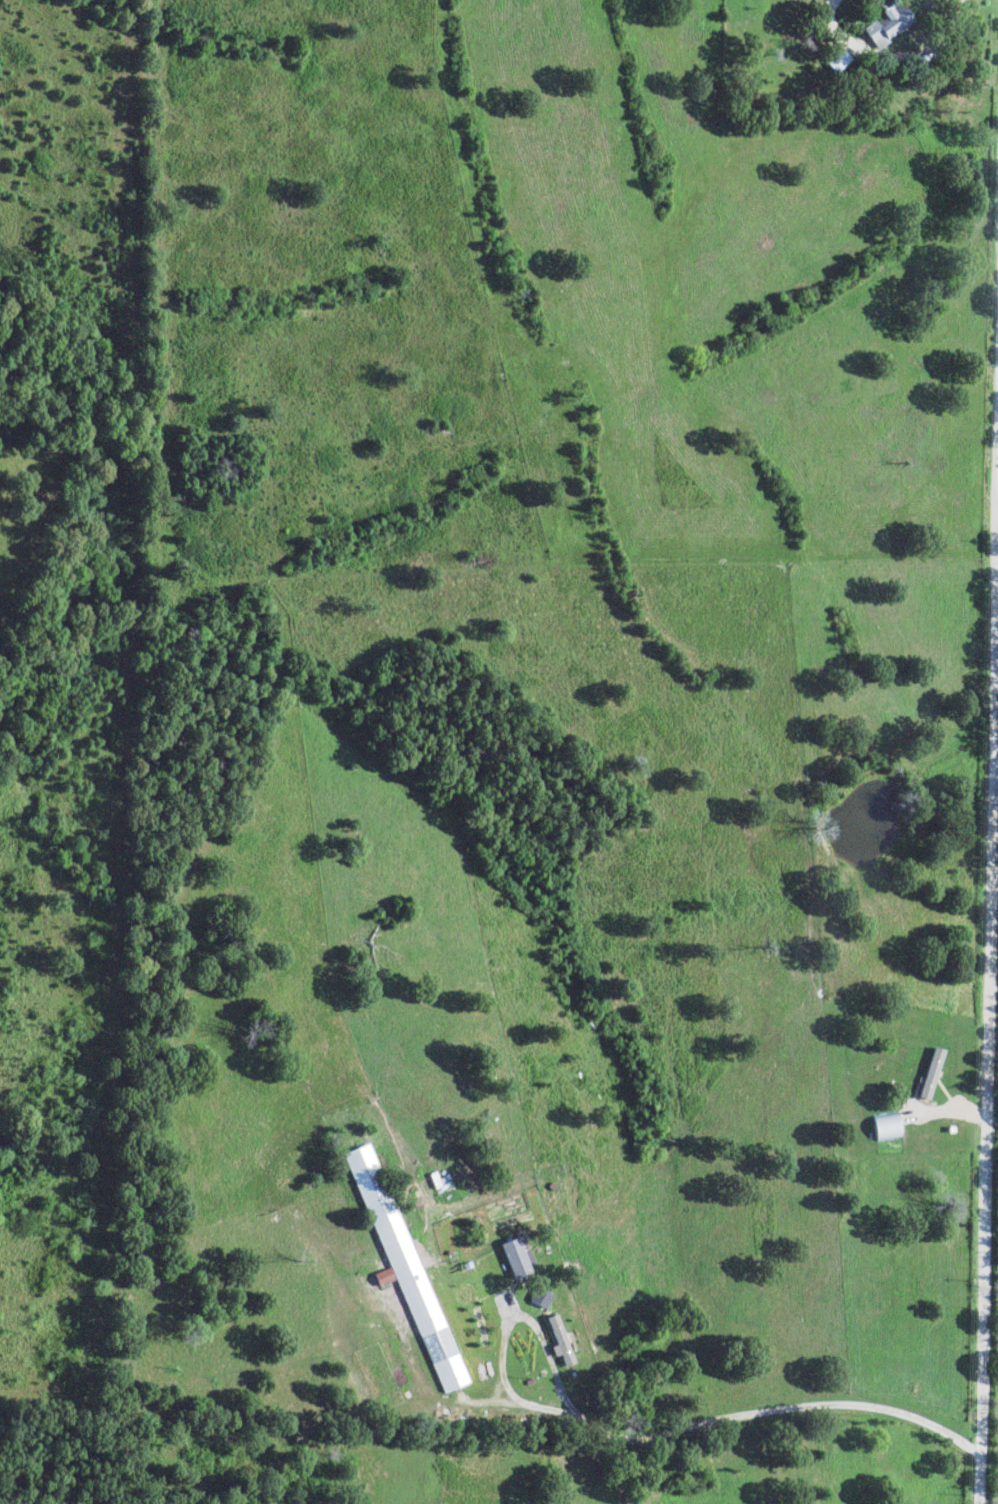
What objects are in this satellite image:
building: (889, 25)
road: (989, 899)
building: (933, 1073)
building: (888, 1127)
road: (679, 1196)
building: (517, 1258)
building: (402, 1259)
building: (541, 1298)
building: (560, 1341)
road: (646, 1437)

